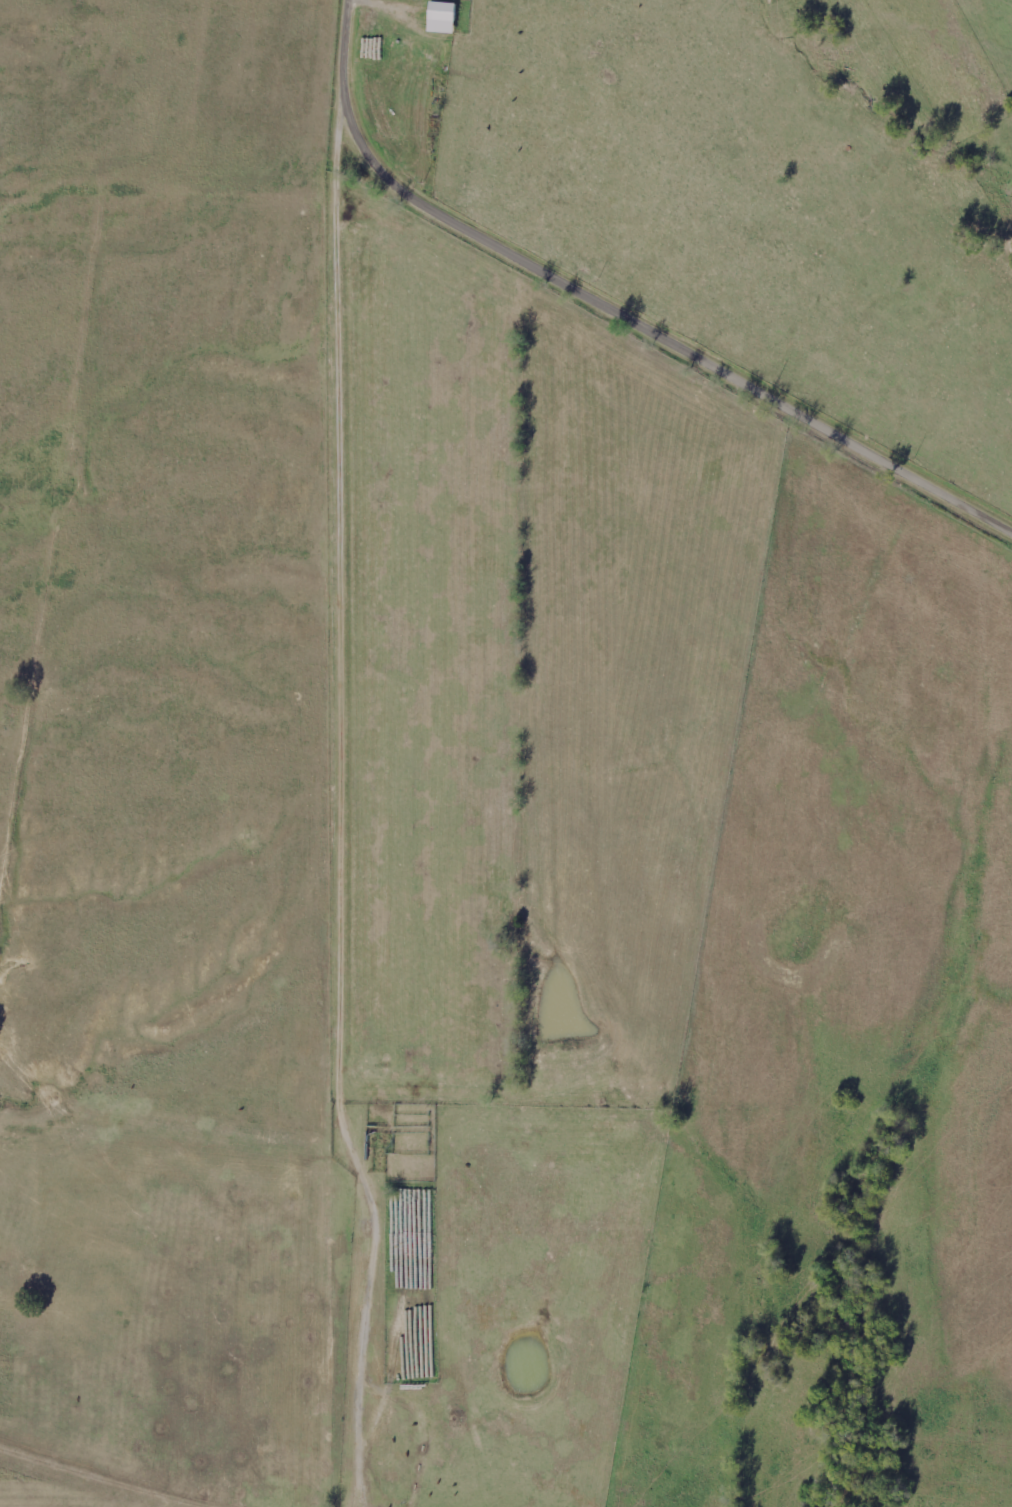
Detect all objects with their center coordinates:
building: (443, 18)
road: (610, 313)

